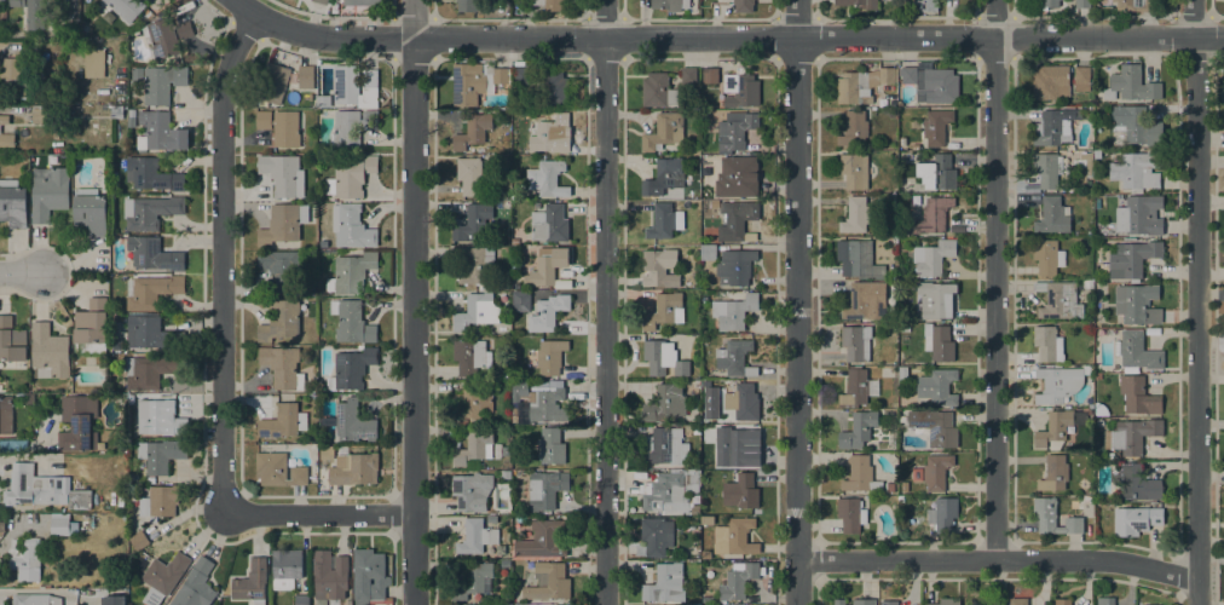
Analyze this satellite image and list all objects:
building: (319, 1)
building: (16, 2)
building: (360, 2)
building: (858, 2)
building: (548, 4)
building: (1049, 4)
building: (1082, 4)
building: (1138, 4)
building: (466, 5)
building: (670, 5)
building: (743, 5)
building: (926, 5)
building: (126, 7)
building: (856, 11)
building: (34, 13)
building: (164, 38)
road: (726, 38)
building: (93, 63)
building: (500, 75)
building: (688, 75)
building: (710, 75)
building: (888, 75)
building: (908, 75)
building: (305, 76)
building: (521, 76)
building: (1081, 79)
building: (19, 80)
building: (1050, 82)
building: (162, 83)
building: (272, 83)
building: (468, 85)
building: (1131, 85)
building: (936, 86)
building: (352, 87)
building: (853, 87)
building: (553, 88)
building: (740, 90)
building: (657, 91)
building: (323, 100)
building: (116, 111)
building: (44, 113)
building: (131, 113)
building: (4, 120)
building: (370, 120)
building: (1136, 125)
building: (281, 126)
building: (936, 127)
building: (1053, 127)
building: (854, 128)
building: (346, 129)
building: (735, 131)
building: (161, 132)
building: (472, 132)
building: (548, 132)
building: (663, 132)
building: (6, 140)
building: (1069, 146)
building: (1097, 152)
building: (1086, 162)
building: (1047, 169)
building: (1137, 169)
building: (854, 171)
building: (937, 172)
building: (152, 174)
building: (283, 174)
building: (469, 174)
building: (351, 177)
building: (664, 177)
building: (738, 177)
building: (547, 178)
building: (48, 192)
building: (704, 194)
building: (12, 203)
building: (90, 212)
building: (150, 212)
building: (1142, 214)
building: (855, 215)
building: (933, 215)
building: (1052, 217)
building: (738, 219)
building: (472, 220)
building: (664, 221)
building: (549, 223)
building: (284, 226)
building: (351, 226)
building: (514, 241)
building: (323, 244)
building: (694, 252)
building: (708, 253)
building: (151, 254)
road: (221, 255)
building: (1047, 257)
building: (933, 258)
building: (858, 259)
building: (1132, 259)
building: (475, 265)
building: (547, 265)
building: (734, 266)
building: (660, 269)
building: (279, 270)
road: (19, 272)
building: (351, 272)
road: (994, 280)
building: (1087, 284)
building: (151, 292)
building: (936, 299)
building: (866, 300)
building: (1058, 300)
building: (520, 301)
road: (1197, 301)
road: (412, 302)
road: (604, 302)
road: (796, 302)
building: (1137, 304)
building: (664, 311)
building: (734, 311)
building: (475, 312)
building: (548, 312)
building: (117, 318)
building: (279, 322)
building: (351, 322)
building: (91, 328)
building: (151, 333)
building: (11, 340)
building: (855, 342)
building: (939, 342)
building: (1047, 344)
building: (50, 350)
building: (1137, 351)
building: (470, 356)
building: (550, 356)
building: (663, 358)
building: (735, 358)
building: (282, 367)
building: (351, 369)
building: (150, 370)
building: (902, 373)
building: (1097, 376)
building: (1060, 382)
building: (858, 387)
building: (937, 387)
building: (519, 390)
building: (1138, 396)
building: (472, 402)
building: (743, 402)
building: (665, 403)
building: (548, 405)
building: (1099, 409)
building: (1118, 413)
building: (6, 414)
building: (515, 415)
building: (161, 419)
building: (283, 421)
building: (77, 422)
building: (353, 422)
building: (935, 426)
building: (1057, 428)
building: (858, 430)
building: (1131, 436)
building: (552, 445)
building: (738, 445)
building: (473, 446)
building: (665, 446)
building: (161, 454)
building: (1109, 455)
building: (354, 468)
building: (278, 469)
building: (936, 471)
building: (1053, 473)
building: (504, 474)
building: (917, 474)
building: (860, 476)
building: (692, 480)
building: (1136, 483)
building: (889, 486)
building: (903, 486)
building: (42, 489)
building: (545, 489)
building: (472, 491)
building: (740, 491)
building: (666, 494)
building: (1087, 499)
building: (158, 502)
building: (694, 509)
building: (706, 509)
road: (319, 513)
building: (850, 514)
building: (942, 514)
building: (1053, 517)
building: (491, 519)
building: (706, 520)
building: (1136, 520)
building: (2, 526)
building: (59, 526)
building: (475, 536)
building: (656, 536)
building: (734, 537)
building: (139, 541)
building: (542, 541)
building: (704, 555)
building: (25, 558)
road: (998, 558)
building: (285, 567)
building: (329, 575)
building: (163, 577)
building: (369, 577)
building: (474, 581)
building: (737, 581)
building: (250, 582)
building: (548, 582)
building: (665, 583)
building: (196, 586)
road: (33, 589)
building: (35, 599)
building: (301, 599)
building: (112, 600)
building: (839, 601)
building: (864, 601)
building: (946, 601)
building: (1018, 601)
building: (1062, 601)
building: (1105, 601)
building: (888, 603)
building: (999, 603)
building: (348, 604)
building: (969, 604)
building: (1149, 604)

